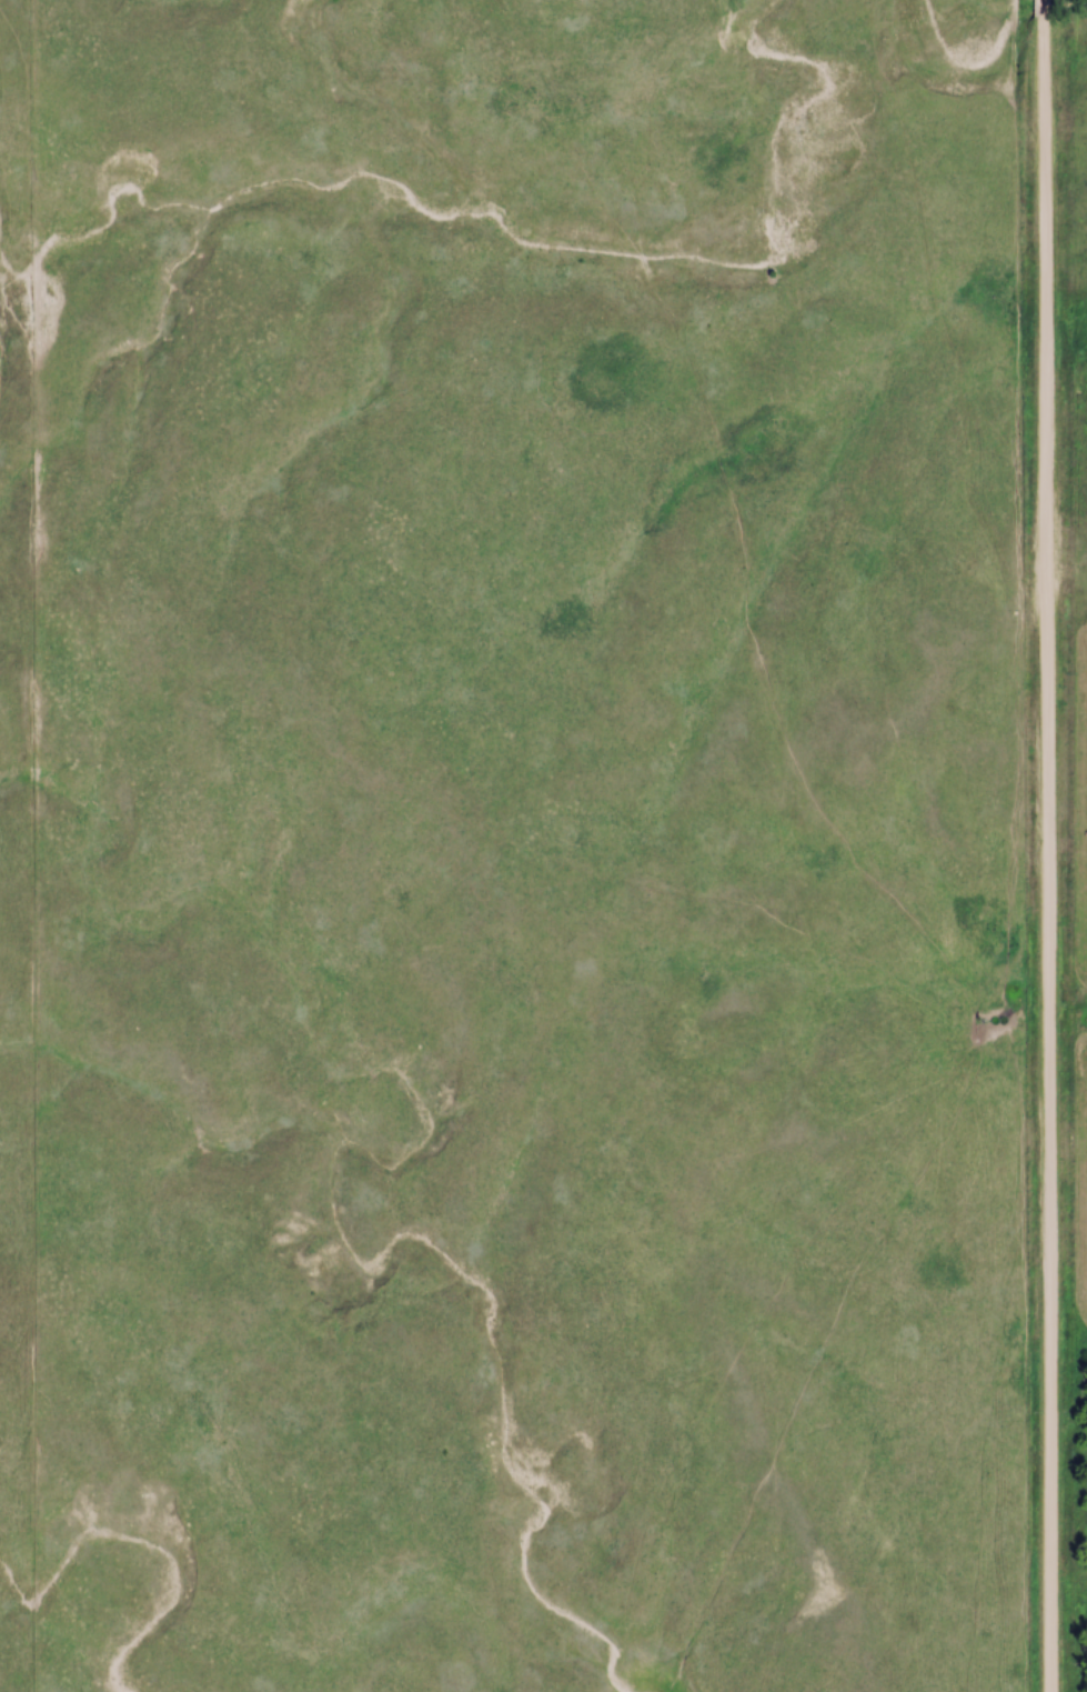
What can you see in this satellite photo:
road: (1050, 845)

